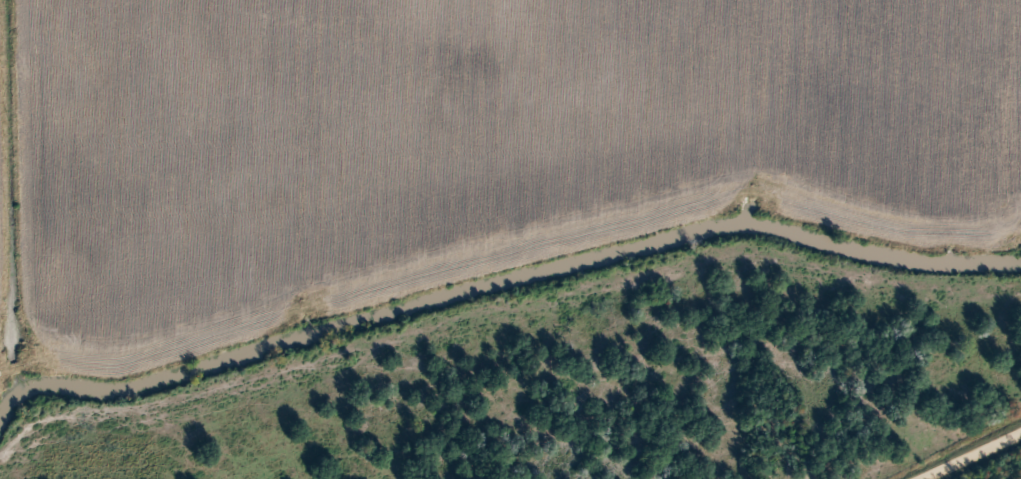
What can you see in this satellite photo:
road: (969, 449)

